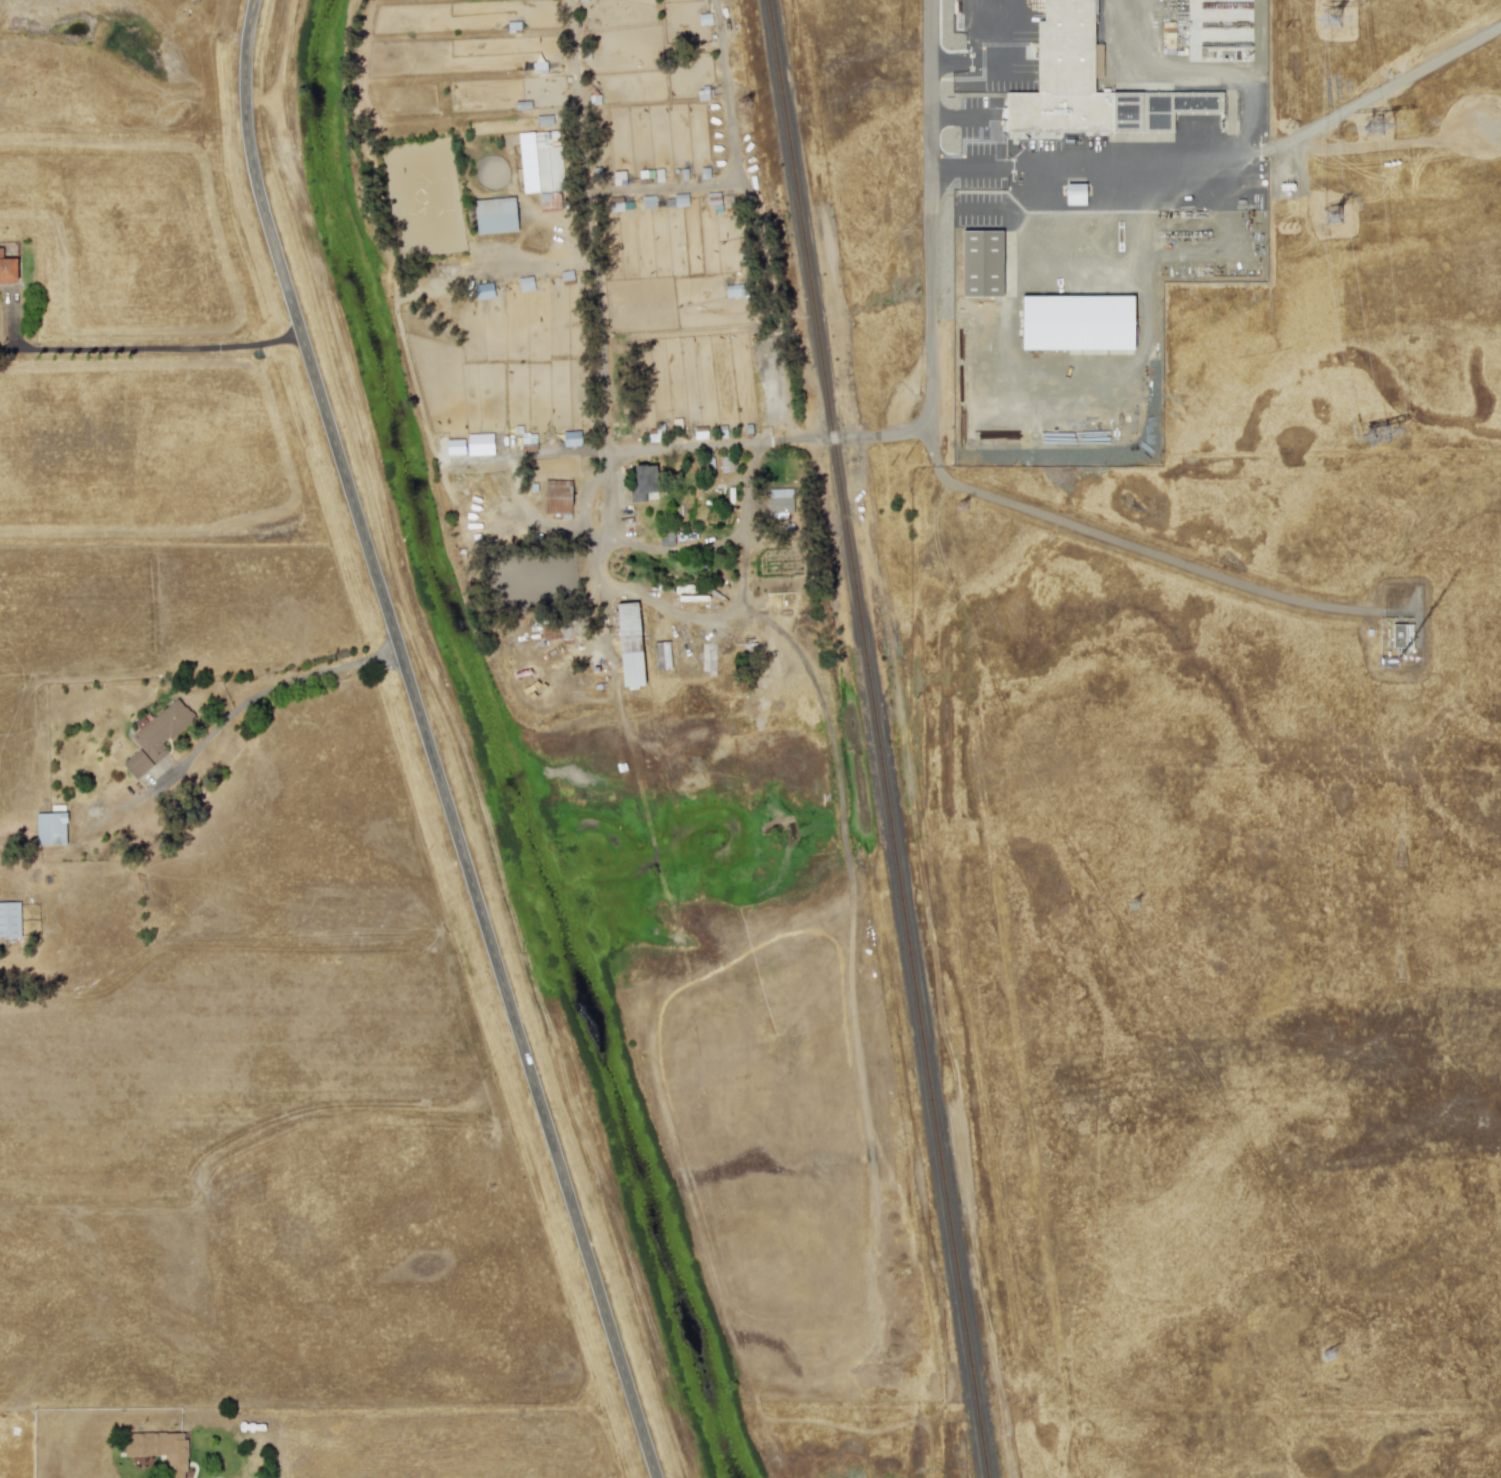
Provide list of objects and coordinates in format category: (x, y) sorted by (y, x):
power tower: (1332, 21)
building: (1167, 37)
road: (996, 62)
road: (1202, 65)
building: (1085, 85)
road: (1372, 96)
power tower: (744, 106)
power tower: (1374, 129)
road: (980, 145)
building: (546, 168)
road: (655, 191)
building: (1074, 193)
building: (679, 200)
building: (615, 204)
building: (494, 215)
road: (931, 217)
power tower: (1333, 217)
building: (980, 263)
building: (7, 268)
building: (525, 284)
building: (479, 290)
building: (1076, 322)
road: (138, 347)
road: (602, 423)
power tower: (1378, 436)
building: (641, 484)
road: (972, 490)
building: (556, 493)
building: (779, 503)
power tower: (962, 509)
road: (731, 617)
building: (1401, 635)
building: (629, 644)
building: (661, 655)
road: (273, 686)
building: (156, 737)
railway: (882, 738)
road: (426, 742)
building: (50, 828)
power tower: (1133, 907)
building: (9, 919)
power tower: (1336, 1375)
building: (159, 1449)

